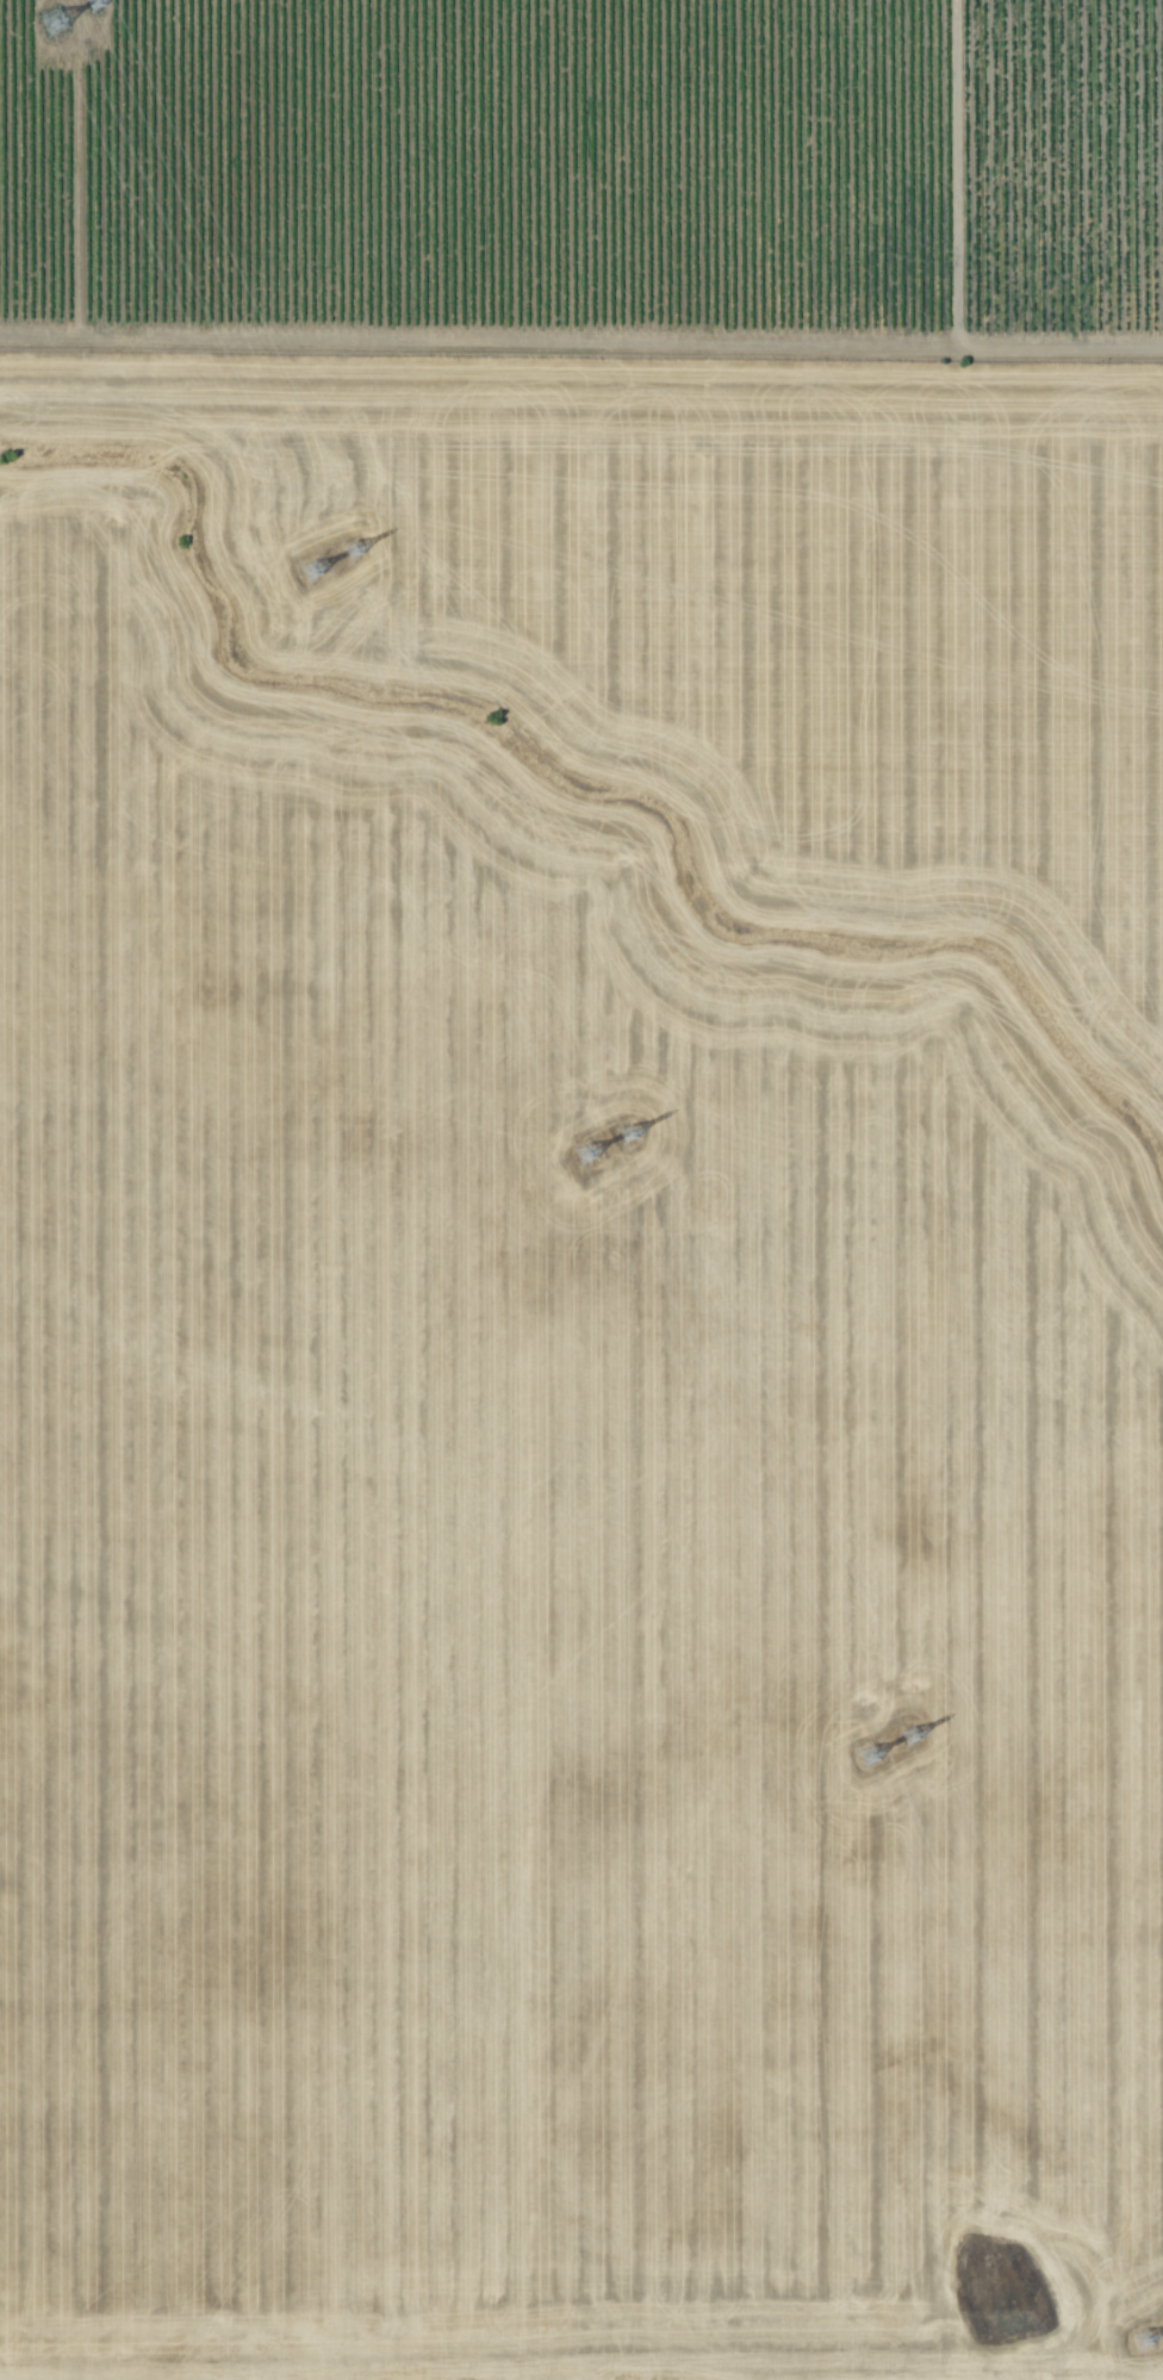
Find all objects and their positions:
power tower: (89, 1)
power tower: (49, 19)
power tower: (349, 551)
power tower: (307, 571)
power tower: (623, 1133)
power tower: (581, 1151)
power tower: (907, 1736)
power tower: (864, 1757)
power tower: (1138, 2341)

